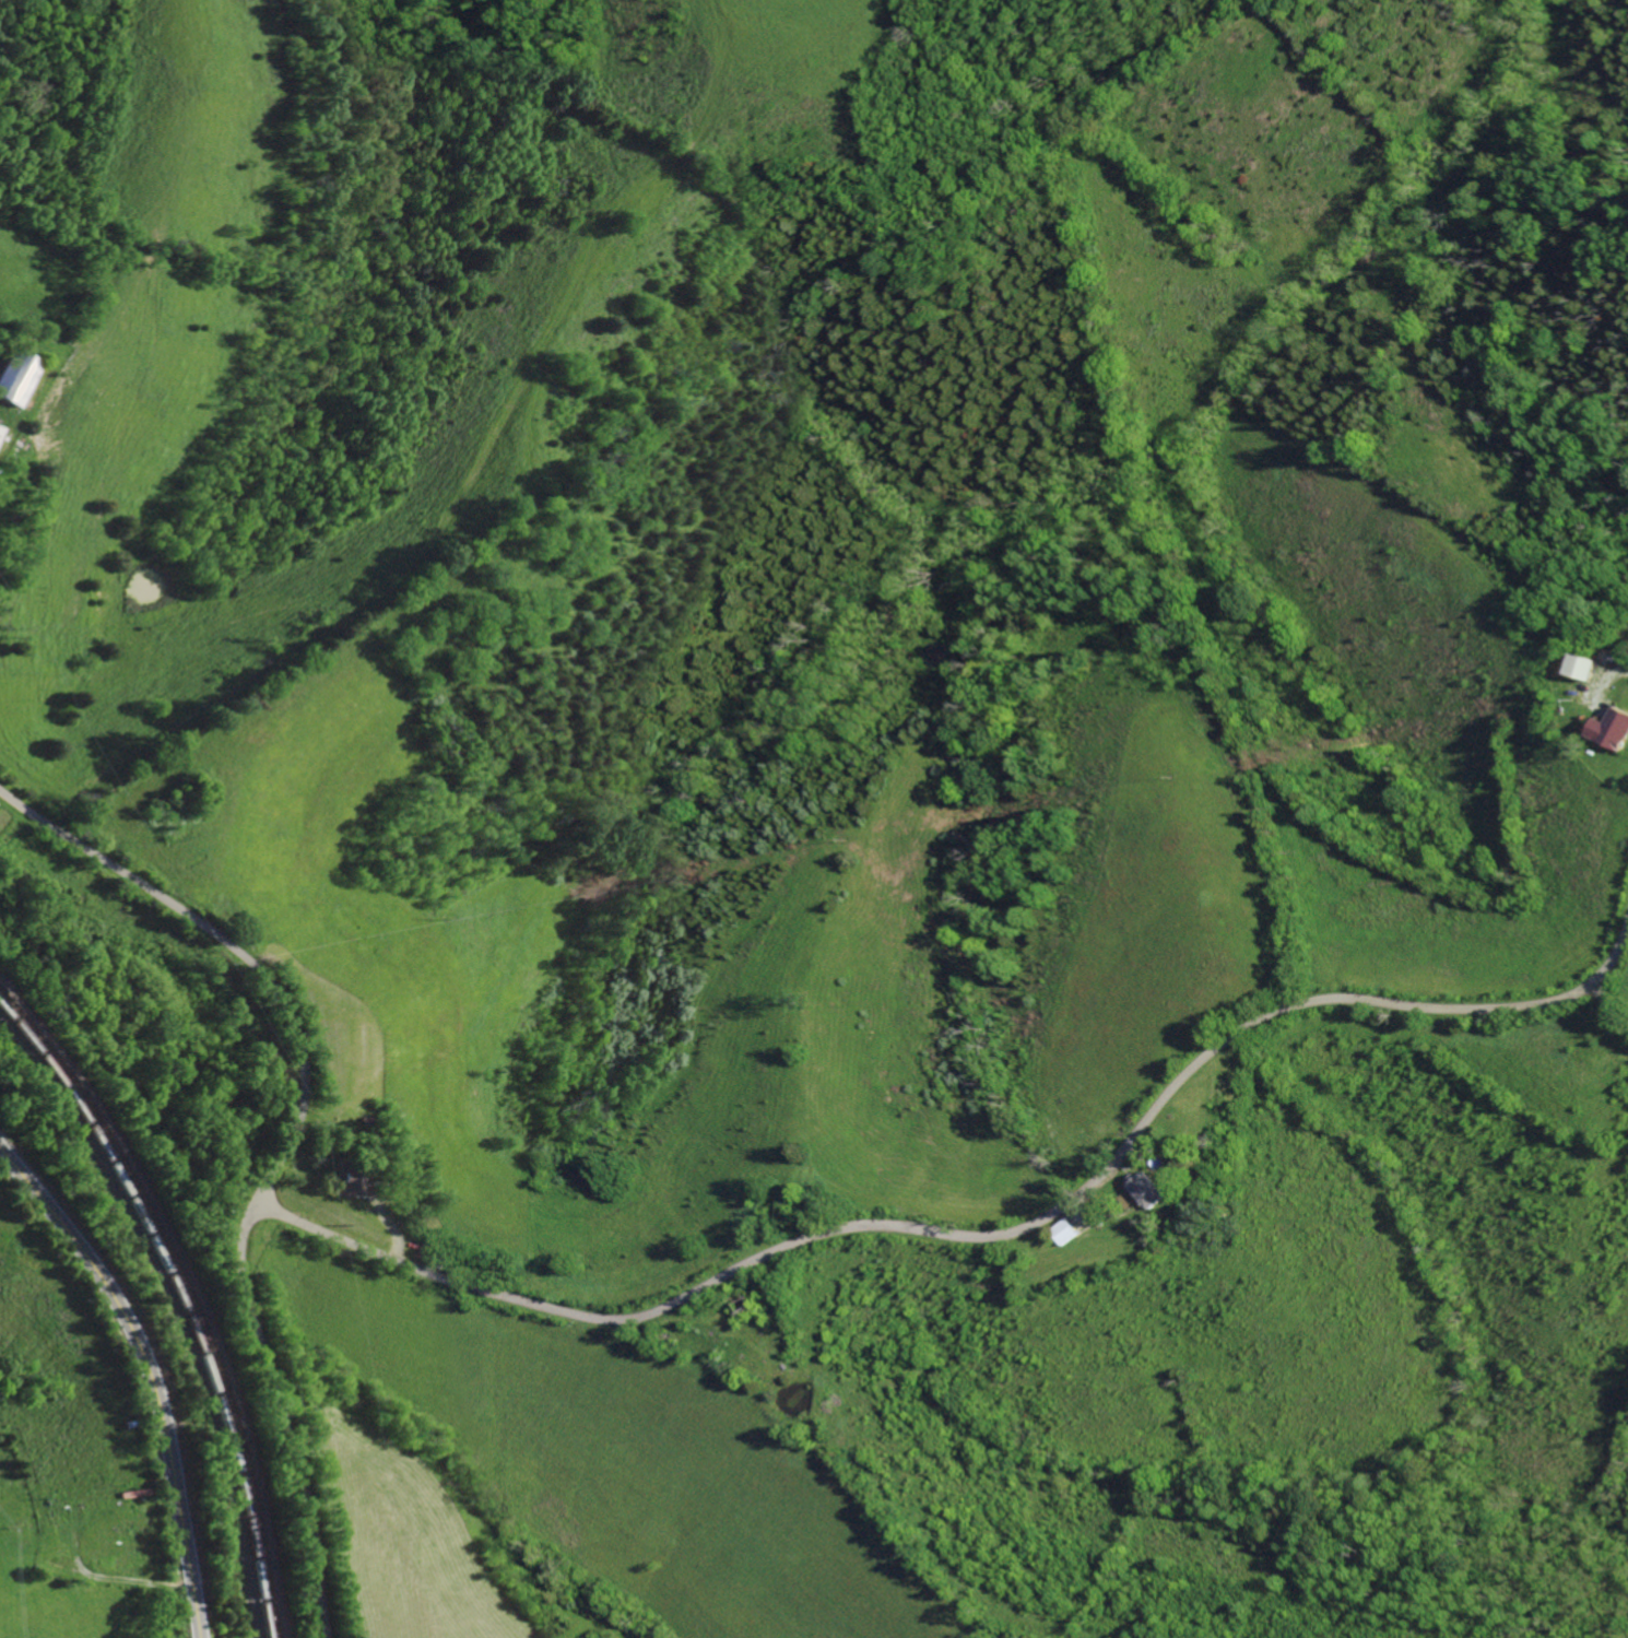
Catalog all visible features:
building: (15, 381)
building: (1612, 728)
road: (232, 952)
building: (1149, 1189)
road: (984, 1235)
railway: (192, 1292)
railway: (185, 1300)
road: (148, 1369)
road: (280, 1416)

